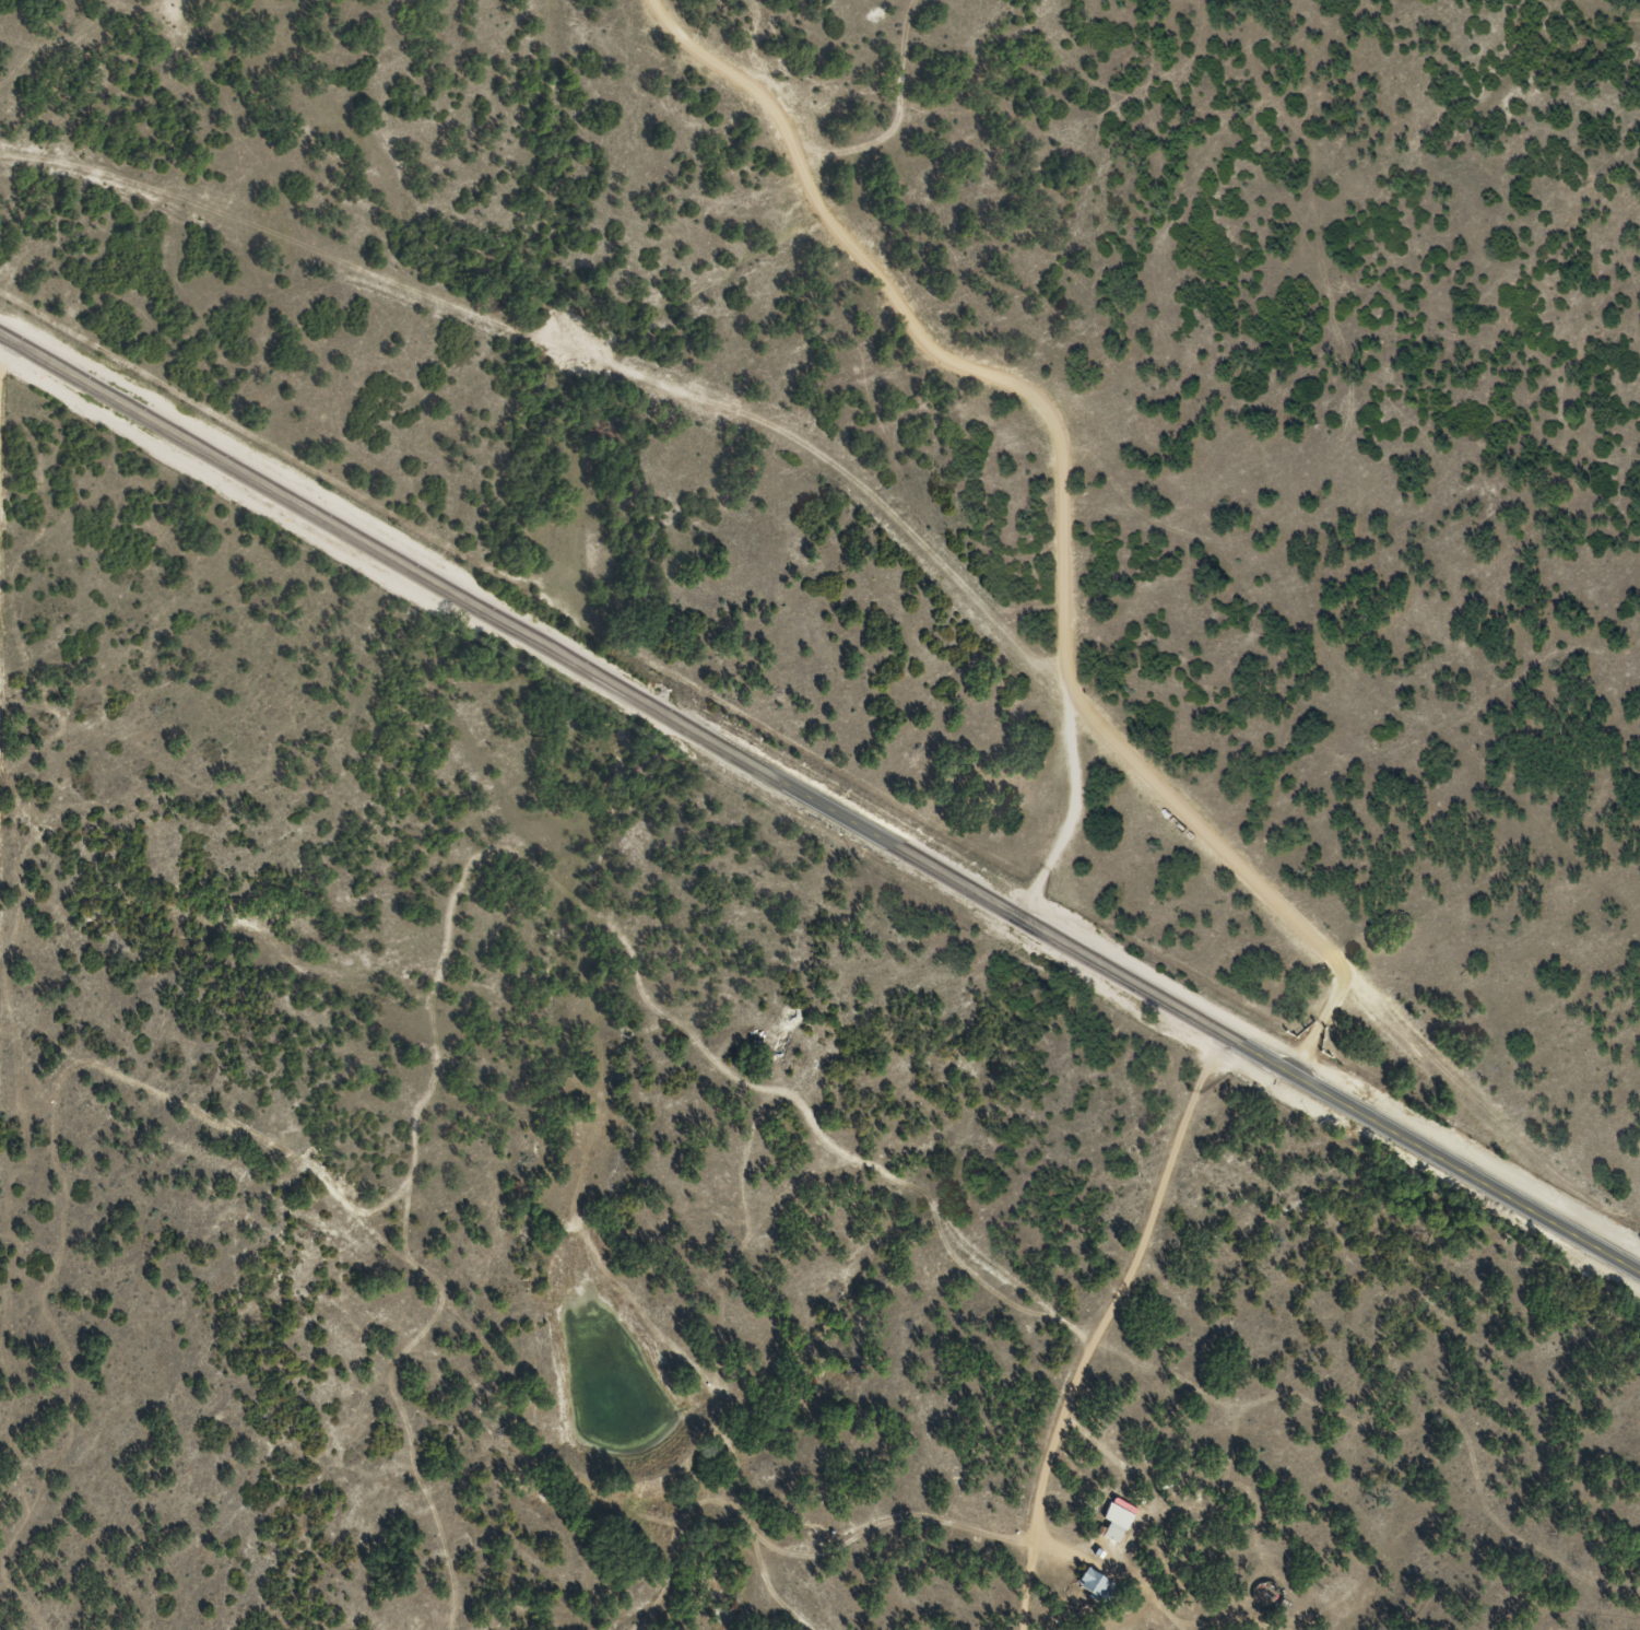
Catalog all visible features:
road: (819, 804)
road: (379, 1274)
road: (1108, 1330)
building: (1109, 1534)
road: (717, 1576)
building: (1093, 1587)

